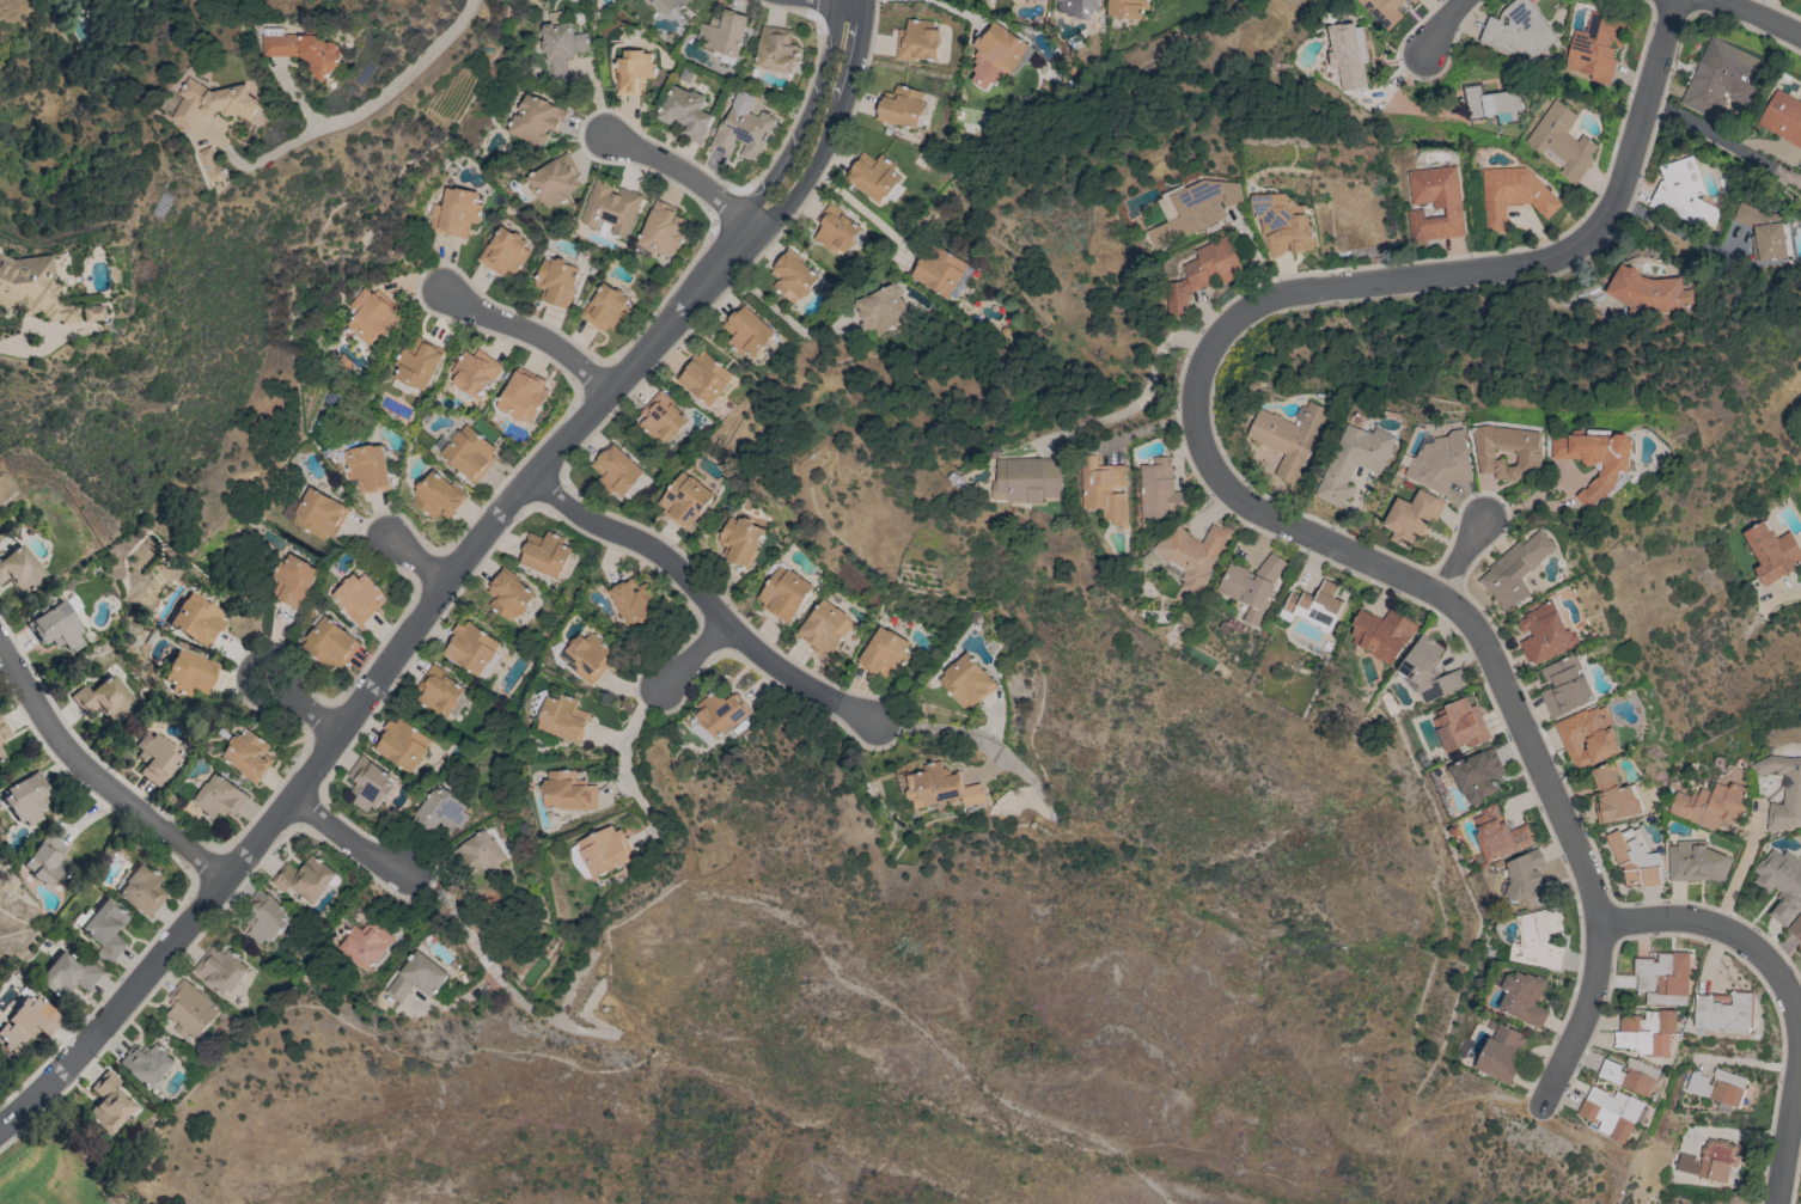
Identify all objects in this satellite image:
building: (1415, 1)
building: (667, 5)
building: (1077, 7)
building: (1127, 8)
road: (951, 10)
building: (1382, 11)
road: (1758, 14)
road: (1439, 25)
building: (1518, 31)
building: (724, 33)
building: (917, 41)
building: (560, 47)
building: (1595, 47)
building: (301, 49)
building: (776, 49)
building: (1348, 54)
building: (997, 55)
building: (634, 72)
building: (1722, 78)
road: (303, 100)
building: (213, 103)
building: (1491, 104)
building: (900, 106)
building: (689, 110)
road: (348, 111)
building: (1782, 117)
building: (533, 120)
building: (743, 133)
building: (1561, 141)
road: (1722, 142)
building: (210, 165)
road: (683, 175)
building: (874, 177)
building: (552, 181)
building: (1681, 194)
building: (1512, 195)
road: (853, 203)
building: (1434, 203)
building: (610, 208)
building: (1195, 209)
building: (454, 212)
building: (1283, 228)
building: (661, 230)
building: (836, 231)
building: (1764, 233)
building: (503, 251)
building: (936, 269)
building: (1202, 274)
building: (792, 276)
building: (556, 282)
building: (32, 288)
building: (1646, 292)
building: (606, 308)
road: (775, 311)
building: (879, 311)
building: (92, 312)
building: (372, 317)
building: (746, 331)
road: (529, 334)
road: (8, 343)
building: (342, 363)
building: (416, 366)
building: (475, 372)
building: (704, 377)
building: (524, 395)
building: (329, 399)
building: (661, 418)
building: (1288, 436)
building: (1595, 450)
building: (469, 452)
building: (1528, 456)
building: (1354, 462)
building: (1439, 463)
building: (367, 467)
building: (616, 471)
building: (1027, 479)
road: (1220, 483)
building: (1103, 489)
building: (1159, 494)
building: (438, 496)
building: (684, 501)
building: (317, 514)
building: (1412, 517)
building: (740, 542)
building: (1771, 552)
building: (545, 554)
building: (1191, 555)
road: (1460, 555)
road: (416, 563)
building: (20, 569)
building: (1515, 569)
road: (451, 575)
building: (292, 581)
building: (1251, 586)
building: (783, 593)
building: (508, 594)
building: (359, 598)
road: (704, 600)
building: (633, 601)
building: (1315, 606)
building: (197, 618)
building: (57, 628)
building: (824, 628)
building: (1545, 632)
building: (1382, 634)
building: (330, 644)
building: (470, 647)
building: (883, 654)
road: (689, 656)
building: (587, 658)
building: (1429, 671)
building: (190, 673)
building: (966, 682)
building: (1565, 686)
building: (438, 691)
building: (105, 699)
road: (303, 705)
building: (720, 713)
building: (564, 719)
building: (1460, 726)
building: (700, 733)
building: (4, 735)
building: (1587, 737)
building: (402, 745)
building: (249, 756)
building: (158, 757)
road: (624, 759)
building: (1477, 775)
road: (96, 777)
building: (370, 784)
building: (940, 787)
building: (1783, 792)
building: (569, 793)
building: (1613, 795)
building: (29, 797)
building: (219, 797)
building: (1711, 806)
building: (441, 811)
building: (1498, 835)
road: (346, 837)
building: (604, 851)
building: (481, 854)
building: (1634, 858)
building: (49, 861)
building: (1695, 862)
road: (1738, 875)
building: (1526, 878)
building: (304, 879)
building: (1781, 884)
building: (145, 890)
building: (264, 917)
building: (108, 928)
building: (1796, 928)
building: (1536, 940)
building: (364, 943)
road: (478, 952)
building: (220, 970)
building: (69, 974)
building: (1663, 977)
building: (416, 978)
road: (1784, 989)
road: (464, 998)
building: (1524, 998)
building: (189, 1010)
building: (1724, 1010)
building: (29, 1022)
road: (1799, 1023)
building: (1647, 1032)
building: (1500, 1052)
building: (147, 1063)
building: (1629, 1075)
building: (1718, 1088)
building: (110, 1104)
building: (1611, 1112)
building: (1709, 1161)
park: (65, 1162)

